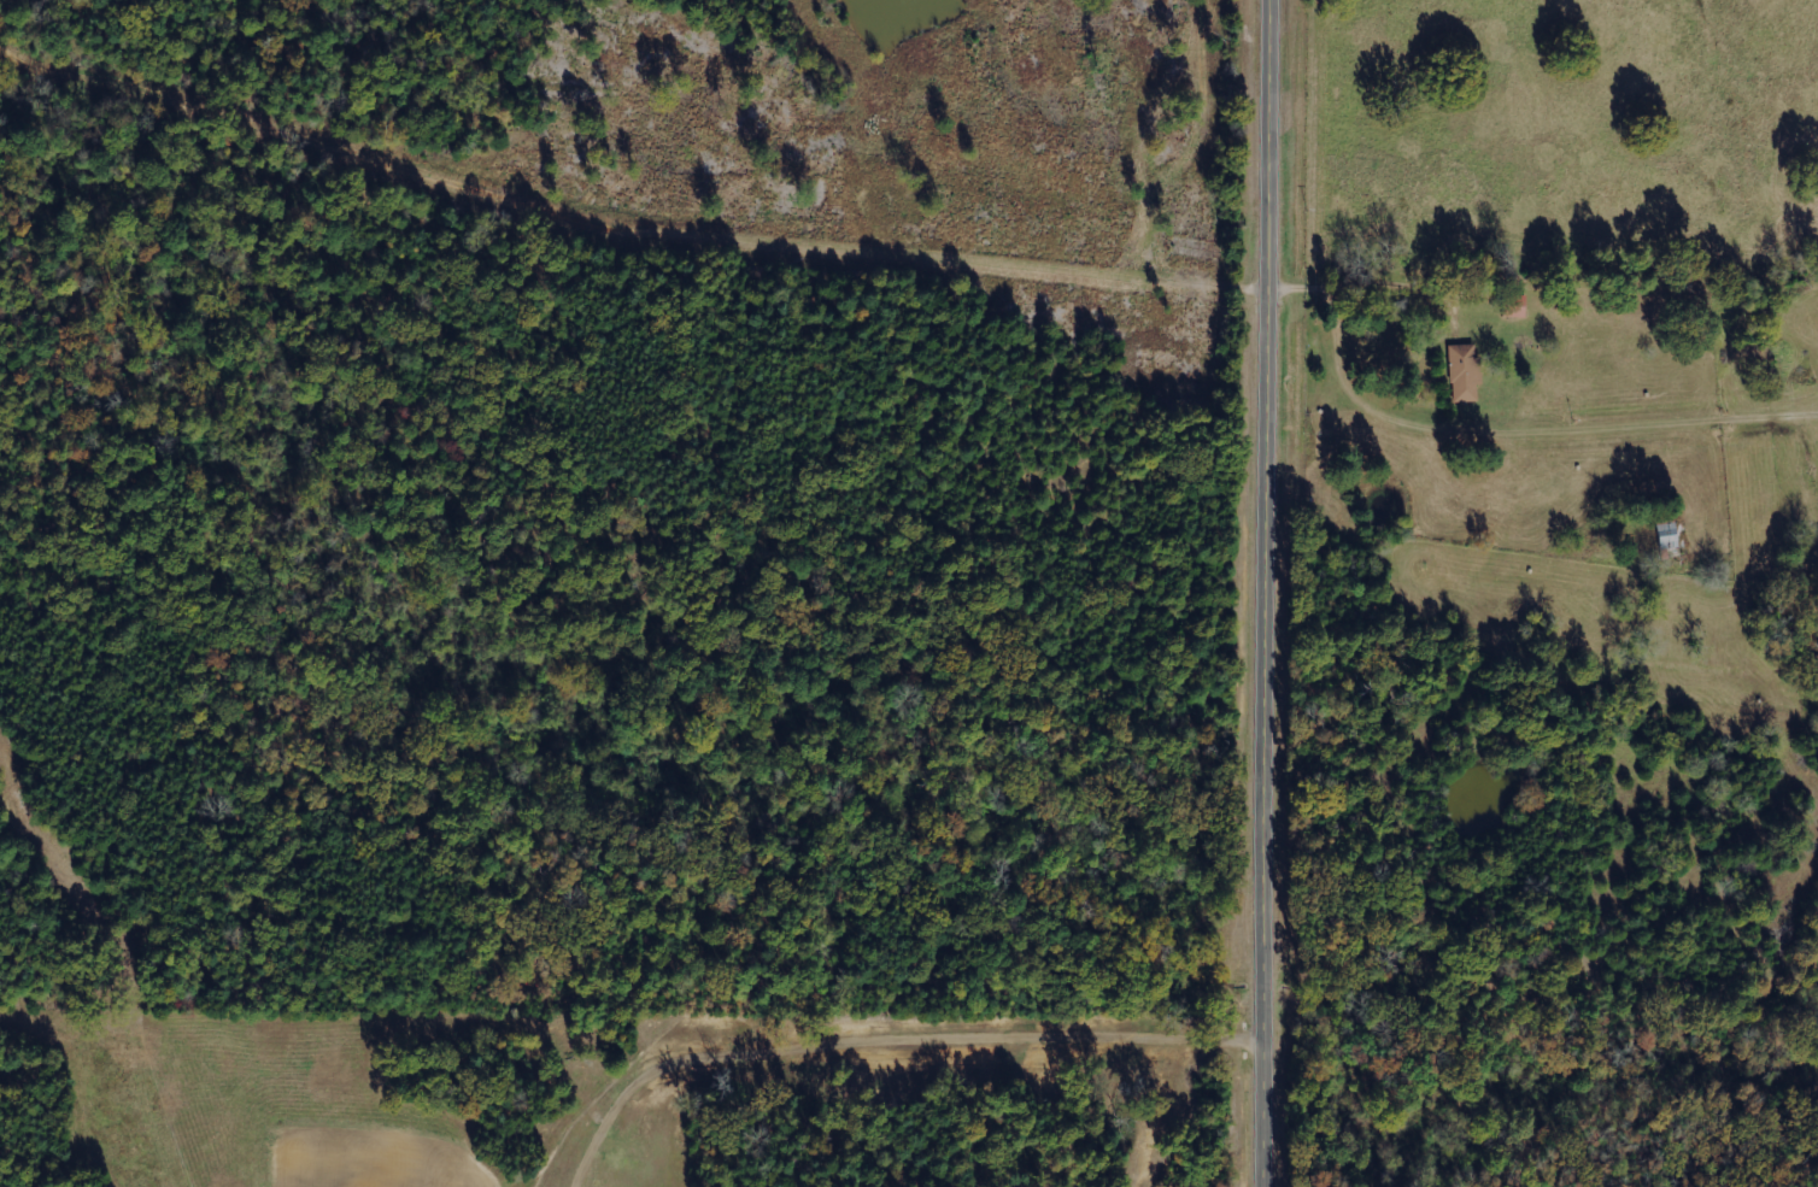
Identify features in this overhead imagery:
building: (1517, 305)
building: (1466, 371)
road: (1261, 593)

